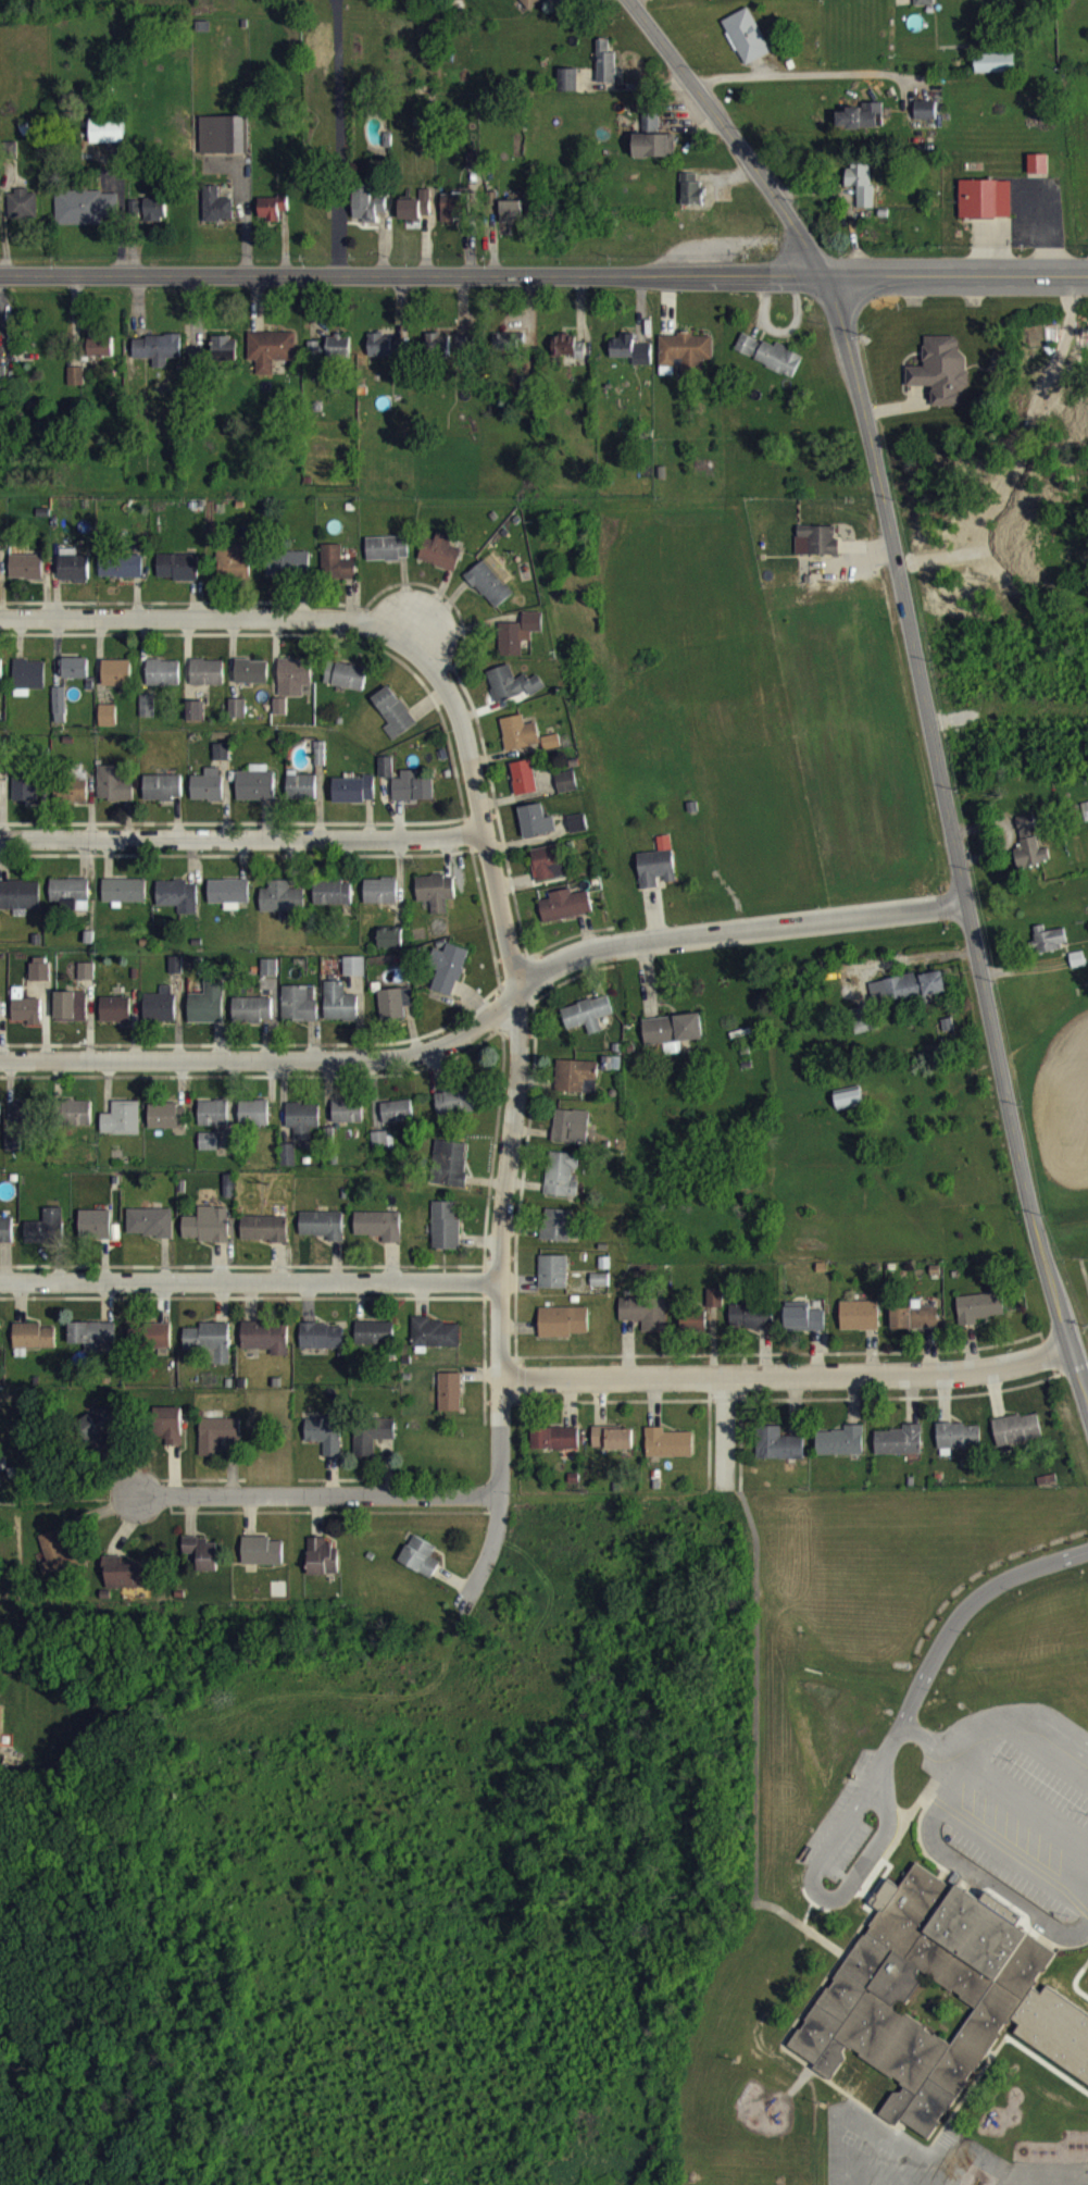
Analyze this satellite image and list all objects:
building: (313, 1)
building: (713, 3)
building: (529, 8)
building: (923, 8)
building: (747, 47)
road: (800, 71)
building: (605, 73)
building: (996, 73)
building: (567, 90)
building: (926, 121)
building: (862, 127)
road: (726, 134)
building: (108, 140)
building: (652, 147)
building: (861, 193)
building: (691, 201)
road: (121, 209)
building: (986, 210)
building: (23, 214)
building: (367, 214)
building: (216, 215)
building: (415, 216)
building: (86, 218)
building: (272, 218)
building: (453, 218)
building: (149, 220)
building: (509, 225)
road: (954, 272)
road: (410, 273)
building: (509, 351)
building: (462, 355)
building: (439, 356)
building: (564, 356)
building: (384, 357)
building: (101, 358)
building: (163, 358)
building: (330, 358)
building: (224, 359)
building: (271, 360)
building: (630, 360)
building: (685, 363)
building: (770, 364)
building: (197, 368)
building: (942, 382)
building: (76, 387)
building: (2, 389)
building: (821, 550)
building: (387, 559)
building: (440, 562)
building: (233, 572)
building: (336, 573)
building: (288, 574)
building: (122, 576)
building: (178, 576)
building: (27, 578)
building: (75, 579)
building: (491, 593)
road: (208, 619)
building: (518, 644)
building: (75, 679)
building: (1, 681)
building: (252, 682)
building: (117, 683)
building: (163, 683)
building: (208, 683)
building: (345, 686)
building: (29, 687)
building: (293, 687)
building: (512, 694)
building: (60, 715)
building: (237, 719)
building: (197, 721)
building: (393, 723)
building: (108, 727)
building: (518, 743)
building: (551, 753)
building: (524, 787)
building: (0, 791)
building: (566, 792)
building: (115, 795)
building: (209, 796)
building: (255, 796)
building: (26, 797)
building: (301, 797)
building: (412, 797)
building: (163, 798)
building: (72, 800)
building: (354, 800)
building: (1085, 821)
building: (536, 832)
road: (240, 834)
building: (577, 834)
road: (952, 836)
building: (1029, 855)
building: (548, 873)
building: (656, 880)
building: (124, 901)
building: (380, 902)
building: (436, 903)
building: (71, 904)
building: (228, 904)
building: (332, 904)
building: (20, 905)
building: (177, 906)
building: (282, 908)
building: (565, 916)
building: (390, 949)
building: (1049, 949)
building: (354, 977)
building: (270, 978)
building: (39, 980)
building: (448, 980)
building: (915, 996)
building: (0, 1013)
building: (207, 1014)
building: (340, 1014)
building: (395, 1014)
road: (488, 1015)
building: (160, 1016)
building: (71, 1017)
building: (115, 1020)
building: (252, 1020)
building: (27, 1021)
building: (588, 1025)
building: (862, 1030)
building: (674, 1040)
road: (517, 1051)
building: (849, 1108)
building: (455, 1112)
building: (348, 1122)
building: (397, 1122)
building: (76, 1123)
building: (213, 1123)
building: (253, 1123)
building: (24, 1125)
building: (166, 1127)
building: (122, 1129)
building: (302, 1130)
building: (572, 1137)
building: (383, 1151)
building: (13, 1152)
building: (208, 1152)
building: (287, 1166)
building: (450, 1175)
building: (562, 1185)
building: (150, 1233)
building: (95, 1236)
building: (207, 1236)
building: (323, 1236)
building: (559, 1236)
building: (379, 1237)
building: (446, 1237)
building: (46, 1239)
building: (264, 1239)
building: (5, 1240)
road: (250, 1281)
building: (553, 1282)
building: (598, 1291)
building: (715, 1309)
building: (979, 1318)
building: (646, 1323)
building: (860, 1326)
building: (751, 1327)
building: (914, 1328)
building: (804, 1330)
building: (564, 1332)
building: (695, 1332)
building: (375, 1343)
building: (436, 1343)
building: (92, 1345)
building: (266, 1348)
building: (322, 1348)
building: (32, 1349)
building: (210, 1351)
road: (787, 1375)
building: (450, 1403)
road: (726, 1432)
building: (171, 1436)
building: (102, 1438)
building: (1017, 1440)
building: (217, 1445)
building: (326, 1445)
building: (371, 1447)
building: (959, 1447)
building: (555, 1449)
building: (613, 1449)
building: (841, 1452)
building: (899, 1452)
building: (668, 1454)
building: (778, 1455)
building: (0, 1489)
road: (322, 1495)
road: (484, 1554)
building: (262, 1562)
building: (203, 1563)
building: (59, 1565)
building: (421, 1567)
building: (322, 1568)
building: (127, 1585)
road: (966, 1606)
building: (1, 1736)
road: (997, 1800)
parking lot: (975, 1813)
building: (921, 1998)

